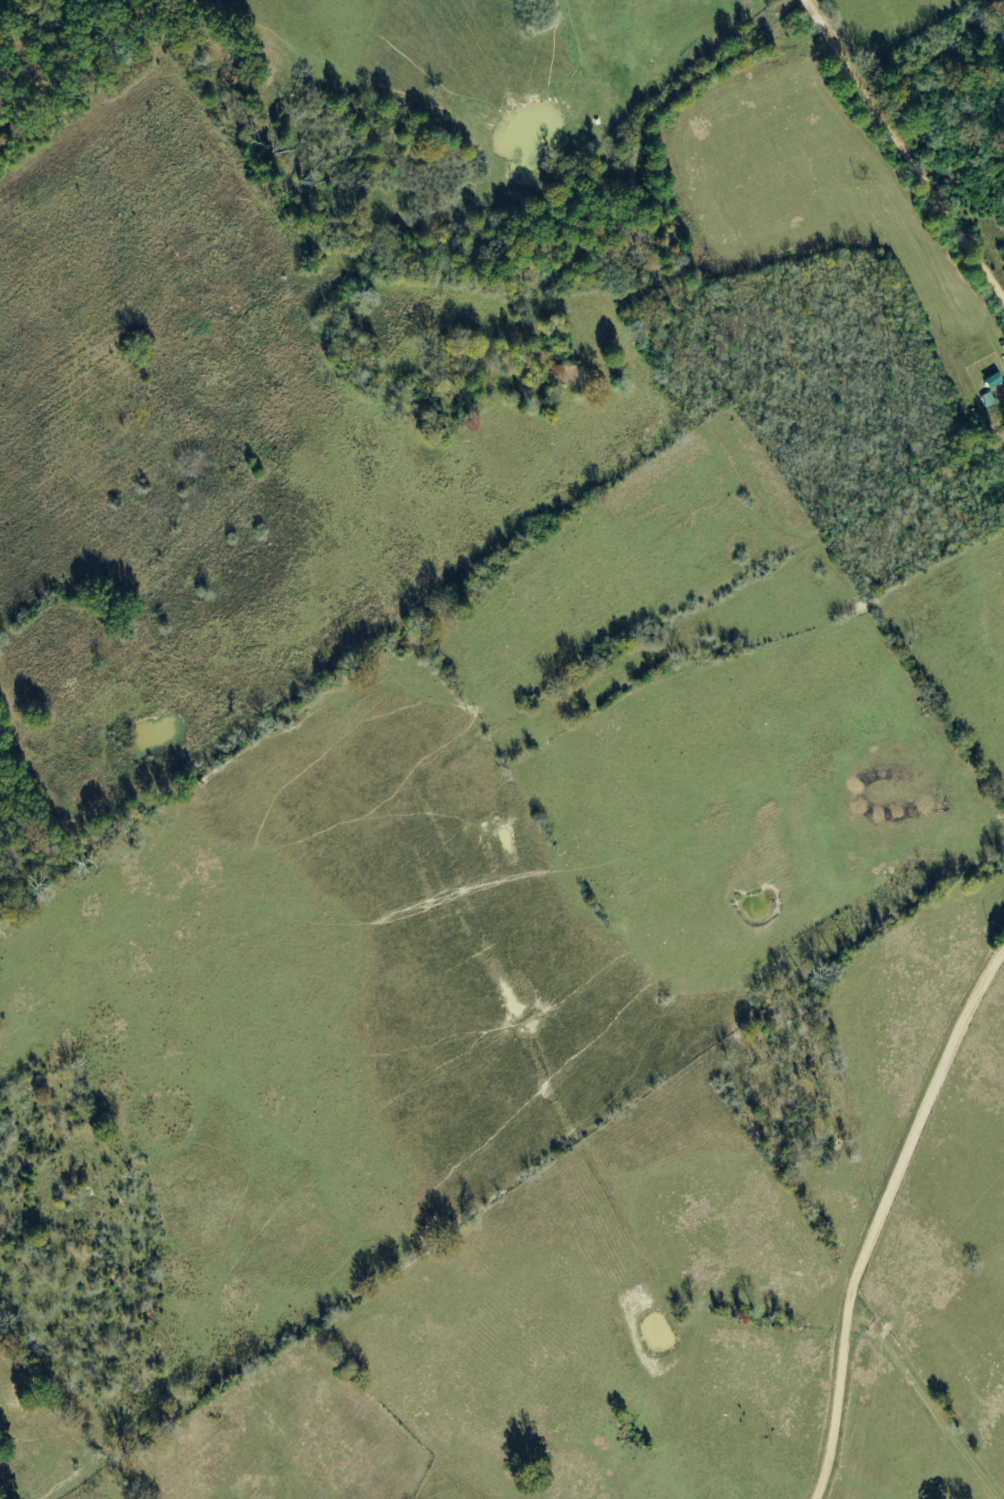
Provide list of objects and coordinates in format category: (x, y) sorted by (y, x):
road: (634, 141)
road: (892, 177)
road: (962, 1138)
road: (865, 1214)

